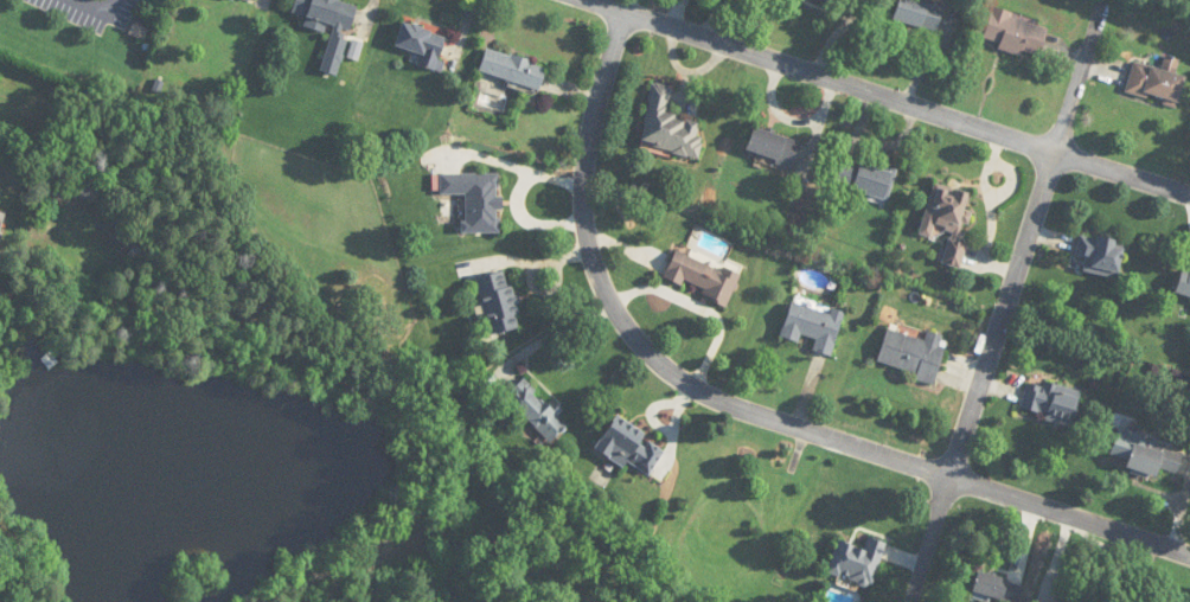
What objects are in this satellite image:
building: (249, 0)
road: (97, 2)
building: (919, 13)
building: (330, 26)
building: (1016, 33)
building: (423, 45)
building: (513, 69)
building: (1156, 85)
road: (891, 96)
building: (670, 127)
building: (773, 147)
building: (865, 178)
building: (84, 188)
building: (476, 200)
building: (948, 218)
building: (1101, 254)
building: (700, 276)
building: (1184, 283)
building: (498, 301)
road: (1002, 324)
building: (813, 325)
building: (913, 353)
building: (1050, 401)
road: (738, 406)
building: (537, 410)
building: (631, 447)
building: (1152, 460)
building: (857, 561)
building: (997, 587)
building: (1061, 601)

